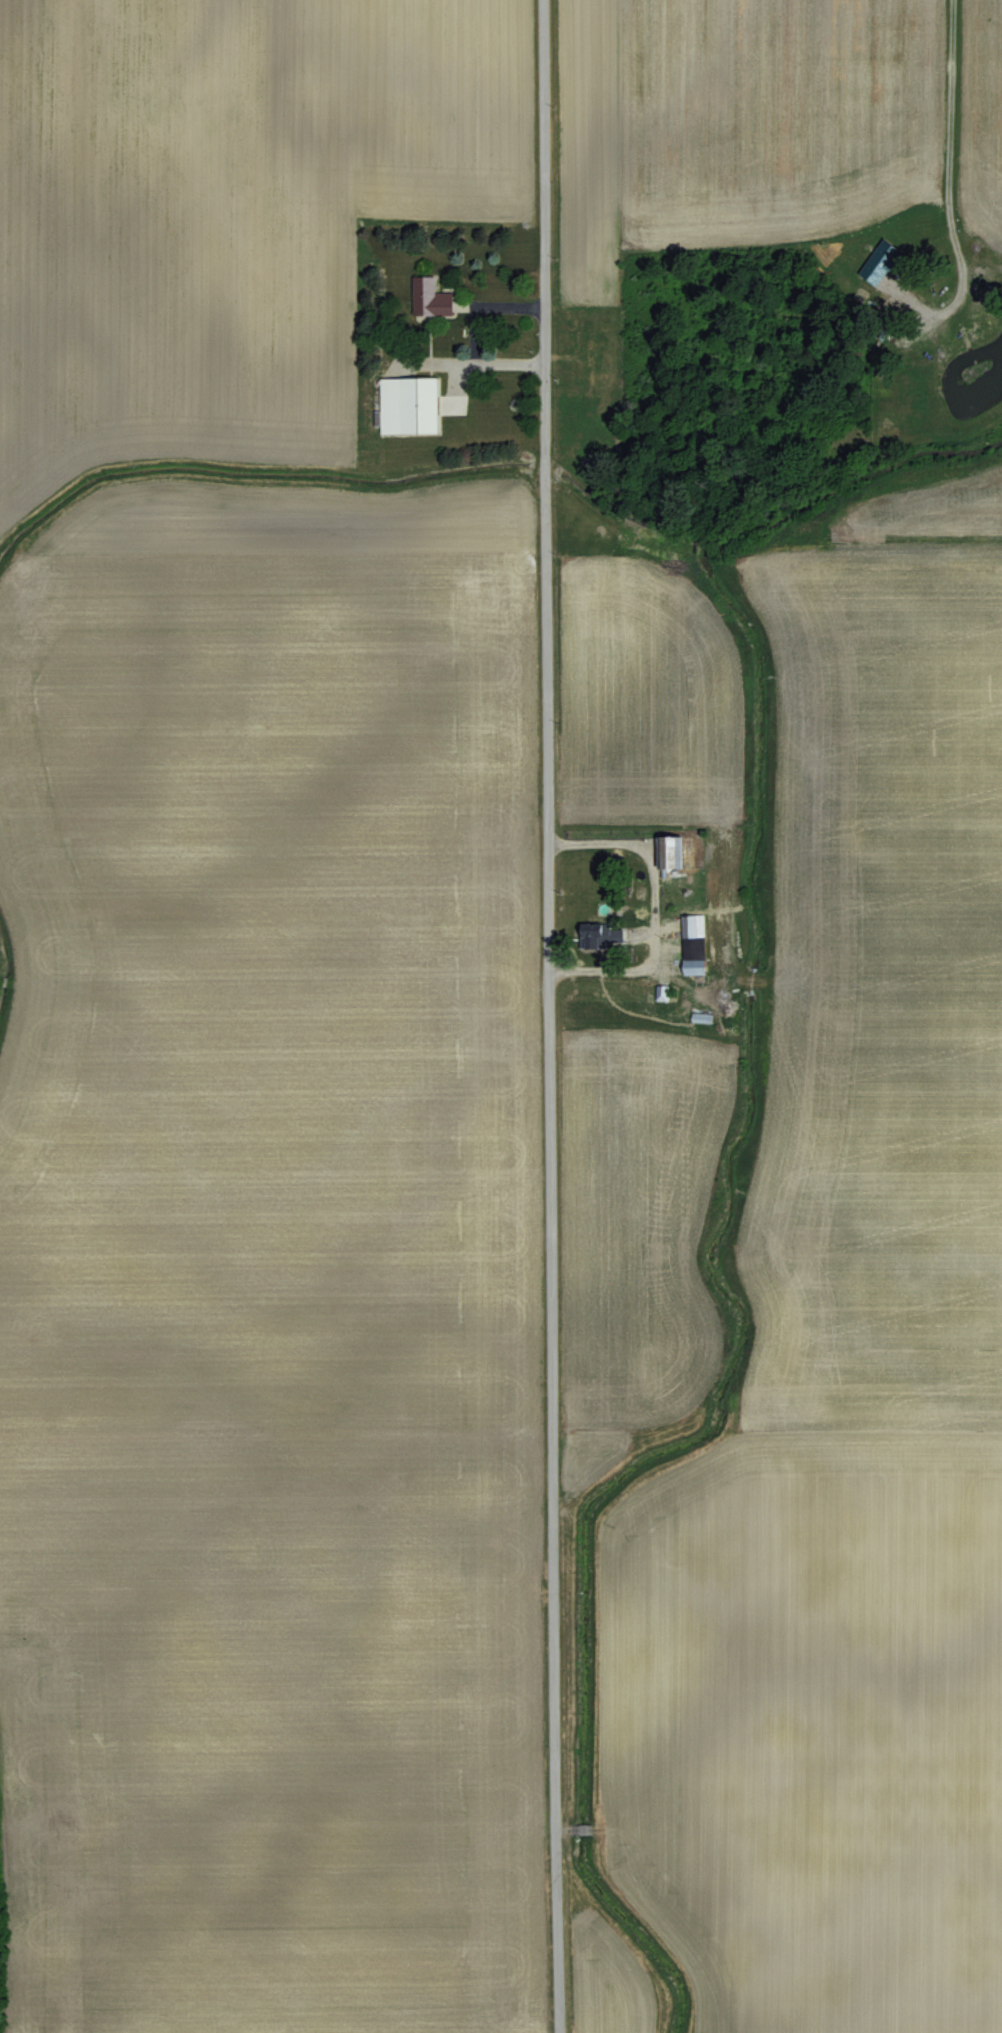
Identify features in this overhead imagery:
road: (946, 135)
road: (470, 332)
road: (652, 907)
road: (551, 1016)

